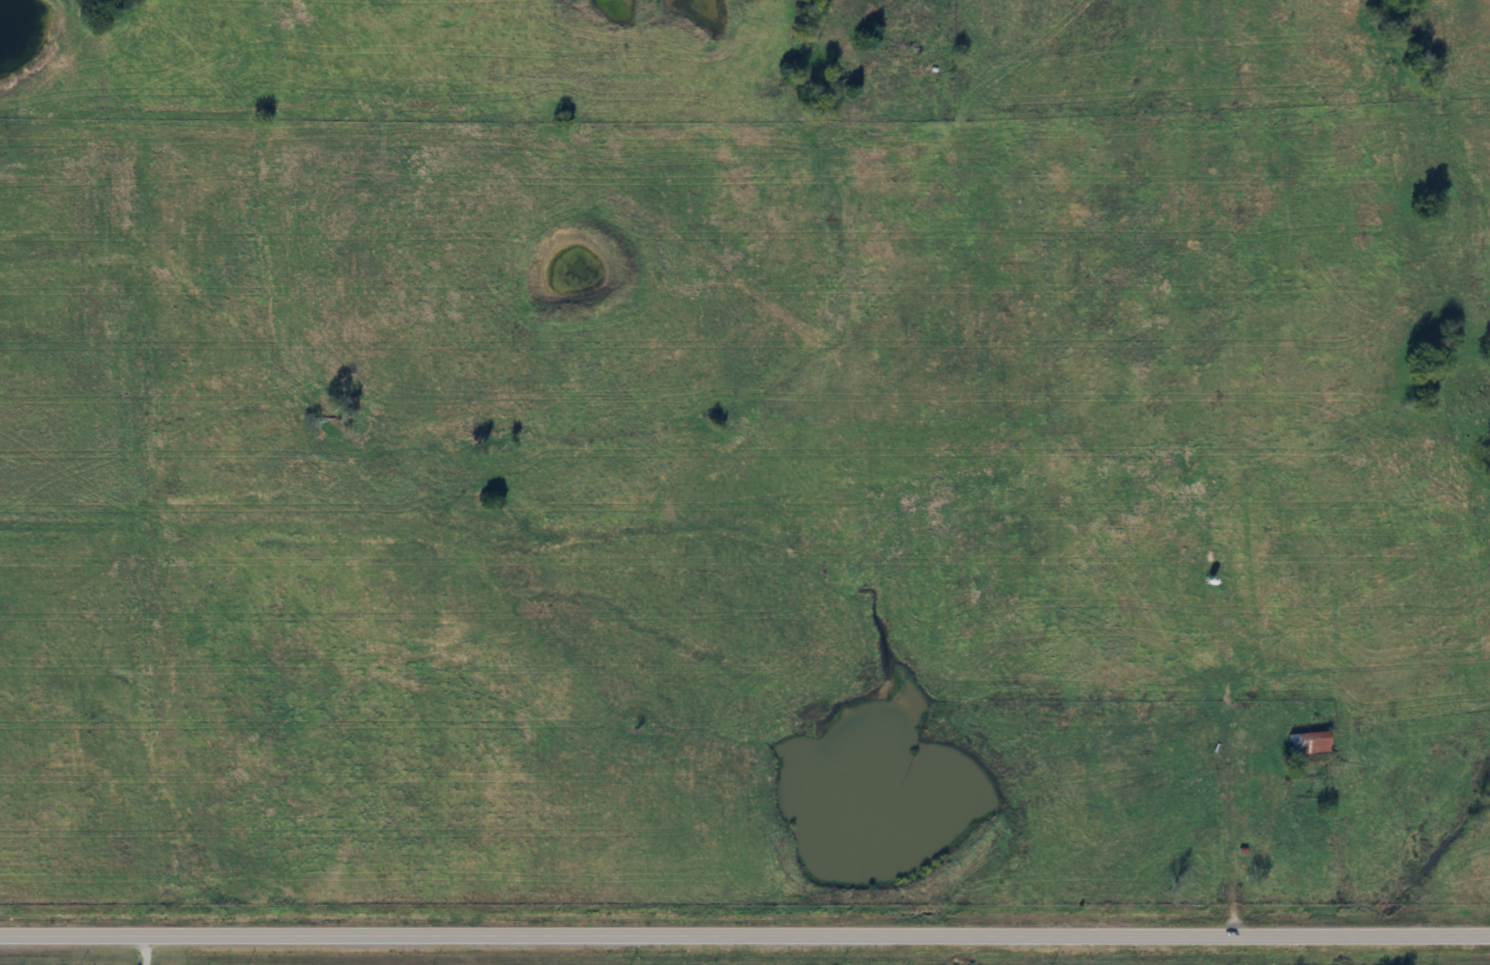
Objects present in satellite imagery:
building: (1306, 744)
road: (1231, 814)
road: (745, 935)

